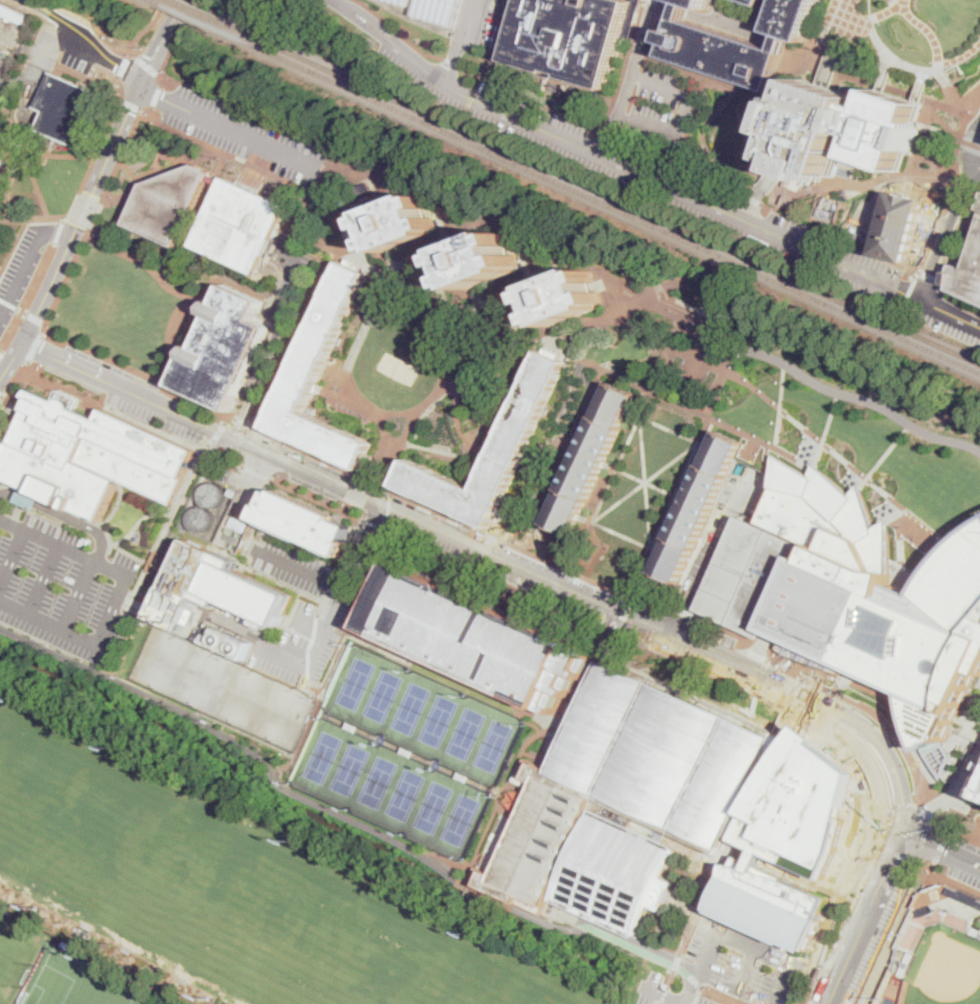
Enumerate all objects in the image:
building: (402, 2)
building: (753, 2)
road: (511, 3)
road: (690, 7)
railway: (196, 9)
building: (434, 10)
parking lot: (740, 10)
road: (889, 10)
road: (32, 11)
road: (716, 11)
railway: (185, 12)
building: (11, 13)
road: (683, 16)
road: (848, 20)
road: (725, 25)
road: (684, 27)
road: (145, 28)
parking lot: (491, 29)
road: (828, 29)
road: (73, 30)
road: (930, 32)
road: (395, 33)
building: (572, 37)
road: (58, 38)
road: (825, 38)
road: (500, 40)
road: (159, 41)
road: (177, 42)
road: (458, 43)
building: (739, 43)
road: (53, 45)
parking lot: (52, 56)
road: (961, 57)
road: (58, 59)
road: (899, 62)
road: (451, 63)
road: (891, 63)
road: (832, 64)
road: (148, 67)
road: (626, 67)
road: (124, 68)
road: (528, 70)
road: (832, 74)
road: (709, 75)
road: (926, 75)
road: (85, 77)
road: (631, 79)
road: (886, 79)
road: (84, 82)
parking lot: (3, 83)
traffic signals: (141, 83)
road: (16, 84)
road: (921, 90)
road: (155, 99)
road: (778, 102)
road: (956, 102)
road: (117, 105)
road: (131, 106)
building: (64, 107)
parking lot: (661, 107)
road: (141, 110)
road: (248, 111)
parking lot: (535, 111)
road: (683, 114)
road: (692, 120)
road: (216, 124)
road: (741, 127)
park: (727, 128)
building: (821, 129)
building: (890, 130)
parking lot: (244, 133)
road: (601, 133)
road: (702, 133)
road: (969, 135)
road: (116, 138)
road: (972, 142)
road: (51, 146)
building: (7, 148)
parking lot: (554, 149)
road: (210, 152)
road: (229, 153)
road: (61, 156)
road: (122, 156)
road: (329, 161)
road: (217, 162)
road: (30, 163)
road: (618, 163)
road: (849, 164)
road: (186, 165)
road: (786, 168)
road: (129, 170)
road: (322, 171)
road: (210, 177)
parking lot: (681, 177)
building: (216, 179)
road: (770, 179)
road: (827, 179)
road: (142, 180)
road: (854, 181)
road: (882, 181)
road: (318, 182)
road: (966, 182)
road: (952, 184)
road: (80, 187)
road: (238, 188)
road: (334, 188)
building: (363, 190)
railway: (598, 190)
road: (778, 190)
road: (795, 195)
road: (776, 196)
railway: (596, 199)
road: (753, 200)
road: (389, 202)
building: (169, 203)
road: (805, 203)
road: (372, 204)
road: (752, 204)
road: (875, 204)
road: (84, 210)
road: (85, 211)
road: (305, 212)
road: (31, 217)
road: (287, 219)
road: (340, 220)
road: (95, 221)
building: (242, 225)
building: (398, 225)
building: (900, 227)
road: (951, 228)
road: (59, 230)
road: (187, 230)
building: (98, 231)
building: (852, 234)
road: (365, 237)
road: (473, 237)
road: (524, 238)
building: (861, 238)
road: (838, 239)
road: (958, 241)
road: (437, 243)
road: (410, 244)
road: (756, 244)
road: (328, 245)
road: (14, 246)
parking lot: (836, 247)
road: (405, 248)
road: (362, 254)
road: (357, 260)
building: (484, 260)
road: (28, 263)
parking lot: (21, 269)
road: (152, 270)
road: (558, 274)
building: (968, 276)
road: (928, 278)
road: (67, 281)
road: (523, 281)
road: (378, 286)
road: (697, 287)
road: (248, 290)
road: (649, 292)
road: (318, 293)
road: (466, 293)
road: (668, 293)
road: (433, 294)
parking lot: (872, 294)
road: (733, 295)
road: (29, 296)
building: (567, 298)
road: (957, 300)
road: (9, 303)
road: (40, 304)
road: (192, 305)
building: (211, 307)
road: (467, 307)
road: (693, 307)
road: (24, 311)
road: (725, 312)
road: (950, 313)
road: (606, 317)
road: (38, 318)
road: (716, 318)
road: (449, 321)
road: (575, 324)
road: (717, 324)
road: (45, 329)
road: (194, 329)
road: (728, 336)
road: (668, 344)
road: (35, 347)
building: (227, 349)
road: (270, 349)
road: (192, 350)
road: (555, 350)
road: (41, 351)
road: (1, 352)
road: (353, 359)
road: (698, 360)
building: (185, 366)
road: (3, 367)
road: (25, 367)
park: (398, 370)
road: (86, 371)
building: (308, 371)
park: (692, 375)
road: (626, 380)
road: (10, 386)
road: (277, 386)
road: (445, 387)
park: (418, 390)
road: (758, 390)
road: (133, 392)
road: (685, 392)
road: (2, 394)
road: (861, 398)
road: (639, 402)
road: (363, 404)
road: (780, 404)
road: (395, 412)
road: (630, 412)
road: (180, 414)
road: (796, 420)
road: (226, 421)
road: (463, 423)
road: (213, 429)
road: (669, 429)
road: (827, 430)
road: (220, 431)
road: (709, 433)
road: (230, 436)
road: (818, 437)
road: (628, 441)
road: (763, 441)
road: (244, 442)
road: (192, 445)
road: (753, 445)
building: (512, 446)
road: (709, 446)
road: (888, 450)
park: (859, 451)
road: (270, 454)
road: (769, 454)
building: (89, 455)
road: (839, 455)
road: (373, 458)
road: (565, 459)
building: (591, 459)
road: (607, 464)
road: (336, 466)
parking lot: (767, 467)
road: (686, 468)
road: (860, 472)
road: (320, 477)
road: (256, 480)
road: (645, 481)
road: (646, 481)
road: (646, 481)
road: (859, 483)
road: (880, 488)
building: (232, 491)
road: (357, 493)
road: (358, 493)
road: (390, 495)
building: (29, 497)
road: (686, 499)
building: (206, 505)
road: (66, 507)
building: (699, 507)
road: (350, 508)
road: (388, 508)
road: (64, 515)
road: (894, 516)
road: (584, 517)
road: (918, 519)
building: (237, 523)
building: (304, 523)
road: (372, 523)
road: (387, 524)
road: (137, 525)
road: (962, 528)
parking lot: (714, 532)
road: (622, 534)
road: (154, 549)
road: (901, 549)
road: (714, 550)
road: (130, 552)
road: (662, 553)
road: (12, 555)
road: (298, 568)
parking lot: (697, 570)
building: (750, 577)
road: (43, 578)
road: (345, 582)
building: (153, 583)
building: (184, 584)
parking lot: (62, 587)
building: (253, 592)
road: (77, 593)
road: (118, 594)
road: (652, 600)
building: (873, 601)
road: (606, 605)
parking lot: (301, 607)
road: (687, 612)
road: (624, 617)
road: (310, 623)
road: (598, 626)
road: (736, 630)
road: (609, 631)
building: (475, 637)
road: (592, 638)
parking lot: (729, 639)
building: (230, 641)
road: (745, 641)
road: (647, 645)
road: (604, 652)
road: (295, 653)
road: (757, 654)
building: (588, 673)
road: (590, 673)
road: (800, 675)
road: (847, 678)
road: (878, 679)
park: (355, 682)
park: (222, 688)
road: (834, 688)
road: (696, 693)
park: (383, 694)
road: (900, 696)
park: (411, 707)
road: (316, 711)
park: (424, 714)
road: (903, 715)
park: (438, 719)
road: (973, 724)
road: (906, 726)
road: (778, 730)
road: (244, 732)
park: (466, 732)
road: (895, 733)
road: (912, 742)
park: (494, 744)
road: (939, 752)
park: (323, 756)
road: (770, 758)
road: (891, 763)
park: (350, 768)
road: (273, 773)
road: (756, 776)
road: (765, 780)
park: (378, 781)
park: (391, 788)
road: (506, 791)
park: (405, 793)
road: (753, 795)
building: (513, 797)
road: (951, 797)
building: (660, 798)
road: (919, 803)
park: (433, 806)
road: (926, 812)
road: (902, 813)
road: (347, 816)
park: (461, 818)
road: (940, 825)
traffic signals: (908, 833)
road: (947, 834)
road: (964, 836)
road: (940, 849)
road: (943, 852)
road: (897, 855)
road: (925, 861)
road: (794, 874)
road: (884, 883)
park: (227, 885)
road: (709, 889)
building: (965, 895)
road: (859, 898)
road: (463, 902)
building: (771, 904)
building: (928, 910)
road: (458, 915)
building: (975, 931)
road: (715, 932)
road: (890, 932)
park: (14, 950)
parking lot: (873, 950)
road: (676, 962)
building: (905, 963)
parking lot: (746, 964)
park: (945, 968)
road: (845, 969)
road: (746, 970)
building: (819, 971)
building: (759, 975)
road: (670, 979)
park: (80, 982)
building: (815, 982)
road: (781, 984)
parking lot: (651, 987)
road: (659, 994)
road: (663, 994)
road: (720, 996)
parking lot: (705, 1001)
road: (661, 1002)
parking lot: (674, 1003)

